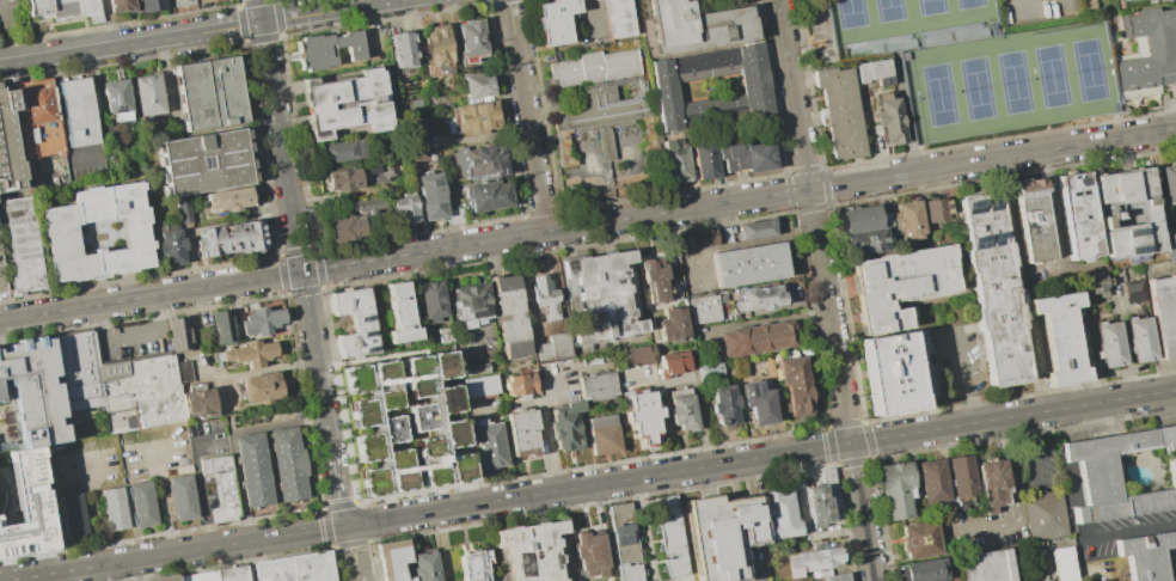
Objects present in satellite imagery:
building: (590, 0)
building: (594, 0)
building: (1123, 0)
building: (207, 1)
building: (737, 1)
building: (182, 2)
road: (1017, 2)
park: (968, 4)
building: (1089, 4)
building: (120, 5)
building: (153, 5)
park: (929, 7)
building: (65, 10)
road: (257, 10)
park: (887, 10)
park: (850, 13)
parking lot: (10, 18)
building: (618, 19)
building: (556, 20)
building: (690, 27)
road: (192, 31)
road: (256, 37)
road: (2, 41)
building: (471, 41)
building: (350, 44)
building: (403, 49)
building: (313, 51)
building: (437, 53)
building: (1147, 53)
building: (978, 65)
parking lot: (978, 65)
park: (1089, 71)
building: (874, 72)
park: (1051, 77)
park: (1012, 82)
building: (478, 86)
building: (755, 88)
park: (975, 88)
building: (209, 92)
building: (147, 94)
building: (600, 94)
park: (937, 96)
building: (116, 99)
building: (345, 104)
building: (78, 112)
building: (840, 112)
road: (526, 115)
building: (37, 117)
building: (470, 118)
building: (888, 118)
building: (8, 146)
building: (343, 151)
building: (746, 157)
building: (206, 161)
building: (479, 161)
building: (676, 161)
building: (705, 161)
building: (359, 177)
road: (860, 181)
building: (1169, 182)
traffic signals: (808, 189)
building: (488, 196)
building: (430, 198)
building: (229, 200)
rooftop solar panel: (987, 203)
building: (367, 206)
rooftop solar panel: (972, 207)
building: (404, 208)
building: (183, 209)
building: (937, 209)
building: (1128, 213)
building: (1078, 215)
building: (909, 220)
rooftop solar panel: (1030, 220)
road: (813, 221)
building: (1033, 221)
building: (345, 228)
building: (757, 230)
road: (294, 231)
building: (864, 232)
building: (60, 237)
building: (232, 238)
rooftop solar panel: (992, 239)
building: (696, 240)
rooftop solar panel: (979, 241)
building: (22, 246)
building: (1170, 246)
building: (171, 247)
building: (748, 264)
traffic signals: (301, 271)
road: (272, 276)
building: (653, 281)
building: (1097, 283)
building: (899, 286)
parking lot: (1, 287)
building: (994, 290)
building: (1134, 290)
building: (545, 298)
building: (599, 298)
building: (757, 298)
building: (431, 300)
building: (470, 302)
building: (704, 310)
building: (1164, 313)
building: (402, 316)
building: (510, 317)
building: (261, 320)
building: (355, 323)
building: (673, 324)
building: (222, 328)
building: (179, 334)
building: (442, 335)
road: (128, 337)
building: (758, 338)
building: (1060, 338)
building: (1140, 340)
building: (1110, 344)
building: (553, 348)
building: (247, 353)
building: (638, 355)
building: (673, 363)
building: (183, 372)
building: (709, 374)
building: (888, 374)
road: (963, 377)
building: (477, 381)
building: (120, 383)
building: (519, 385)
building: (598, 386)
building: (796, 386)
building: (262, 389)
building: (31, 396)
building: (198, 403)
building: (758, 403)
building: (724, 406)
building: (681, 410)
road: (1012, 416)
building: (643, 417)
building: (439, 424)
road: (277, 426)
building: (566, 426)
road: (545, 433)
building: (522, 434)
building: (604, 435)
building: (489, 444)
traffic signals: (850, 444)
road: (1036, 448)
building: (288, 464)
road: (853, 467)
road: (1007, 469)
building: (253, 470)
road: (1062, 475)
building: (1095, 475)
road: (945, 479)
building: (960, 479)
building: (829, 481)
building: (931, 482)
road: (336, 484)
building: (990, 484)
building: (221, 487)
road: (239, 488)
building: (894, 489)
road: (200, 493)
building: (183, 497)
road: (160, 501)
building: (23, 503)
building: (142, 504)
building: (821, 506)
building: (112, 508)
road: (93, 509)
road: (427, 512)
building: (780, 513)
building: (1043, 514)
building: (72, 515)
road: (984, 525)
traffic signals: (345, 526)
road: (1125, 532)
building: (719, 534)
building: (1175, 534)
building: (669, 536)
road: (866, 537)
building: (919, 538)
building: (624, 542)
road: (360, 548)
building: (528, 550)
road: (343, 551)
building: (590, 554)
building: (1143, 555)
building: (391, 559)
building: (814, 559)
building: (1061, 563)
building: (423, 564)
building: (472, 564)
building: (985, 565)
building: (296, 568)
building: (921, 570)
building: (231, 574)
building: (198, 576)
road: (356, 577)
building: (834, 577)
building: (167, 579)
building: (1045, 580)
building: (1048, 580)
building: (1113, 580)

